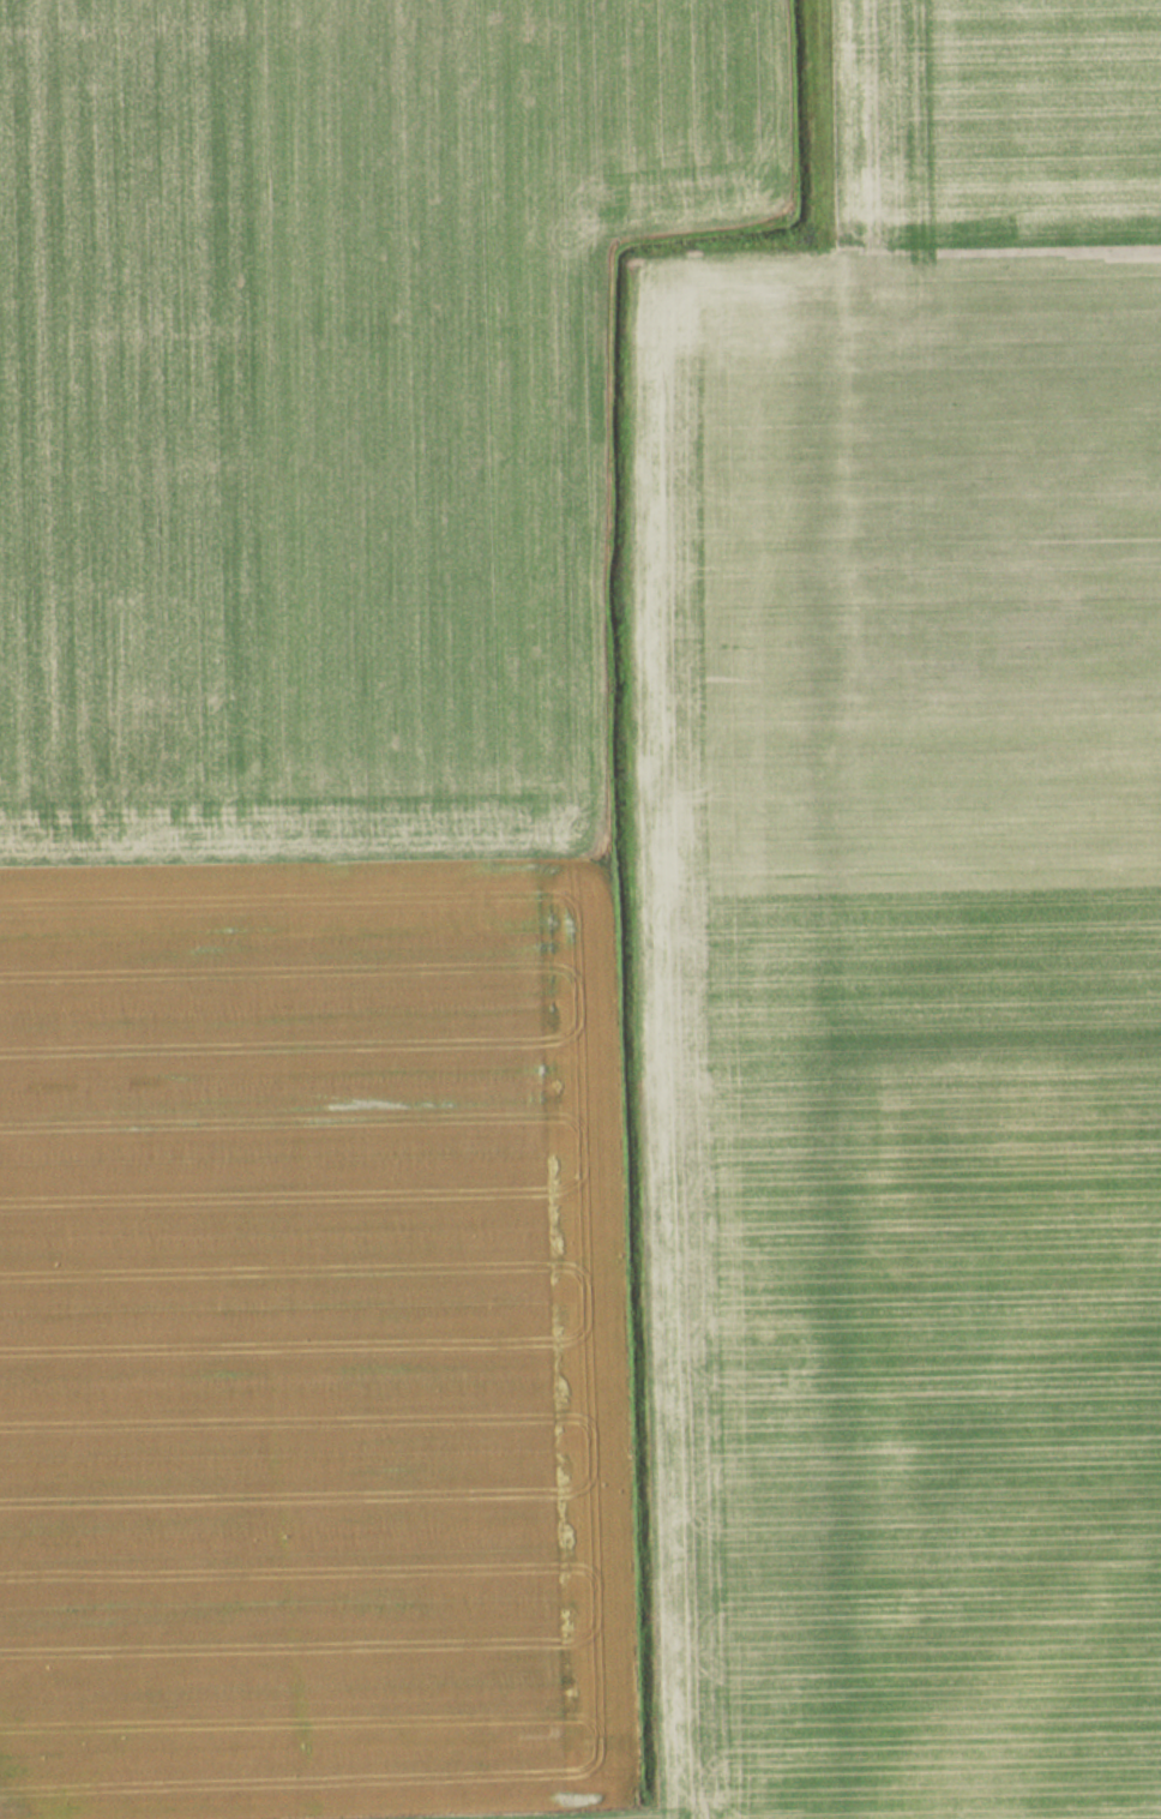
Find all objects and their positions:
crop: (318, 888)
crop: (922, 948)

